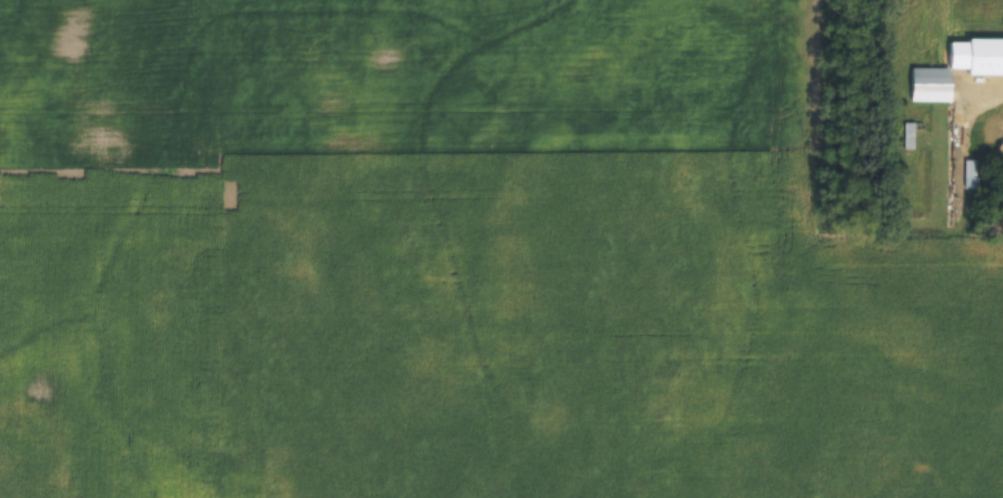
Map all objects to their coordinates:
building: (939, 77)
building: (911, 134)
building: (972, 173)

